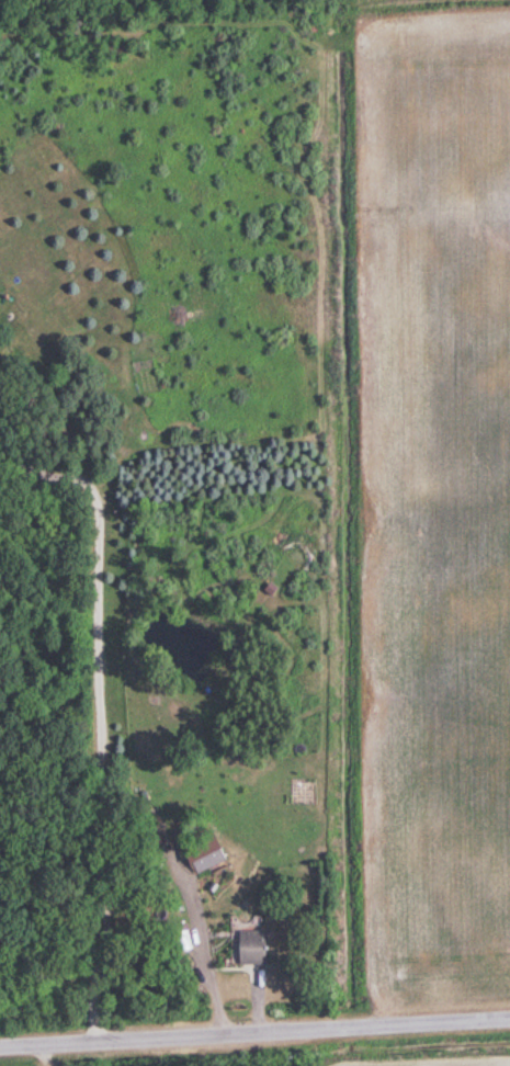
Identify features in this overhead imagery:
road: (94, 714)
building: (148, 770)
building: (201, 855)
building: (247, 948)
road: (199, 949)
road: (254, 1033)

